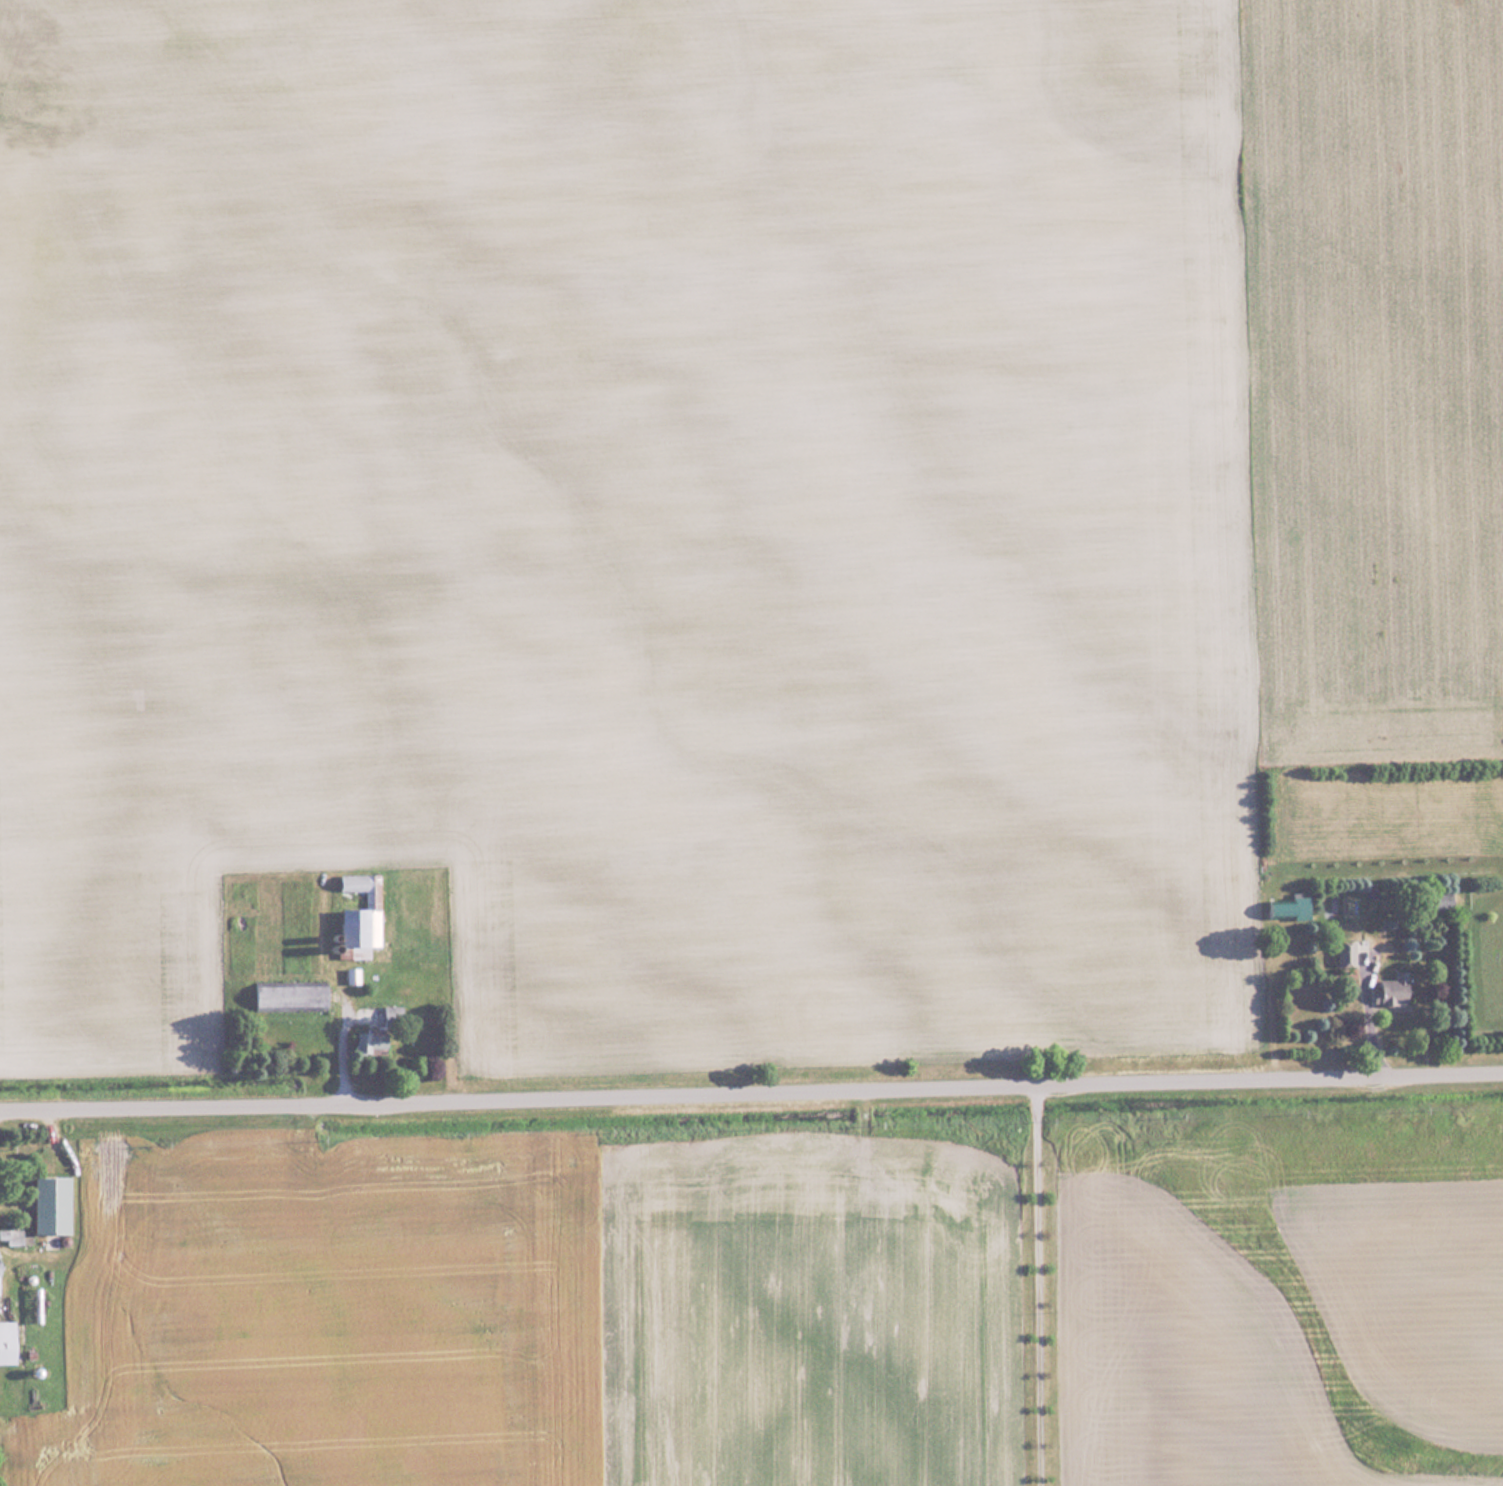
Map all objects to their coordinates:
building: (1285, 908)
building: (362, 912)
building: (1344, 951)
building: (353, 976)
building: (1391, 990)
building: (293, 997)
building: (380, 1034)
road: (340, 1046)
road: (751, 1096)
building: (56, 1204)
building: (16, 1237)
building: (2, 1277)
road: (1031, 1287)
building: (9, 1342)

